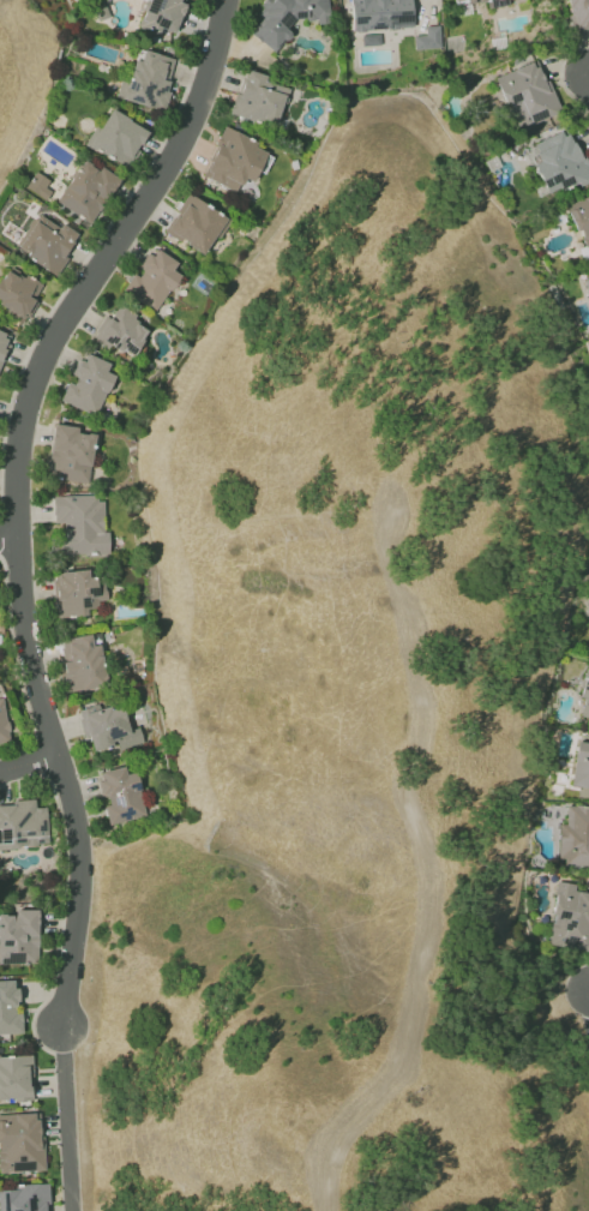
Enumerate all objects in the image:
building: (456, 0)
building: (495, 2)
building: (578, 13)
building: (379, 14)
building: (161, 16)
building: (284, 18)
building: (427, 38)
building: (146, 80)
building: (527, 95)
building: (259, 98)
building: (116, 138)
building: (233, 160)
building: (558, 162)
building: (38, 187)
building: (86, 191)
building: (581, 220)
building: (194, 224)
building: (46, 242)
building: (151, 280)
building: (587, 284)
building: (17, 292)
building: (120, 331)
building: (4, 343)
building: (86, 385)
building: (68, 454)
building: (80, 526)
road: (8, 535)
road: (23, 584)
building: (77, 593)
building: (80, 664)
building: (584, 695)
building: (2, 724)
building: (107, 727)
road: (28, 763)
building: (581, 765)
building: (120, 796)
building: (22, 825)
building: (573, 838)
building: (570, 918)
building: (18, 937)
building: (8, 1008)
building: (14, 1077)
building: (20, 1143)
building: (23, 1199)

